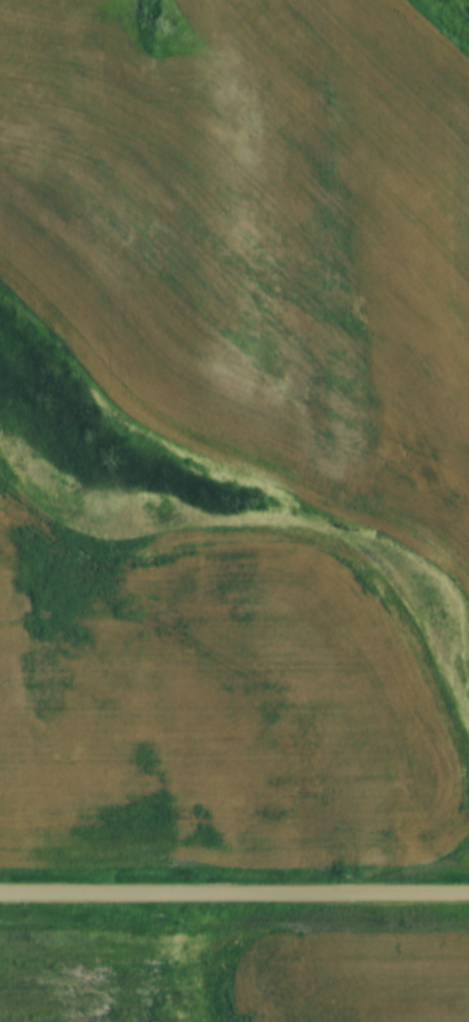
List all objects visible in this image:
road: (234, 893)

